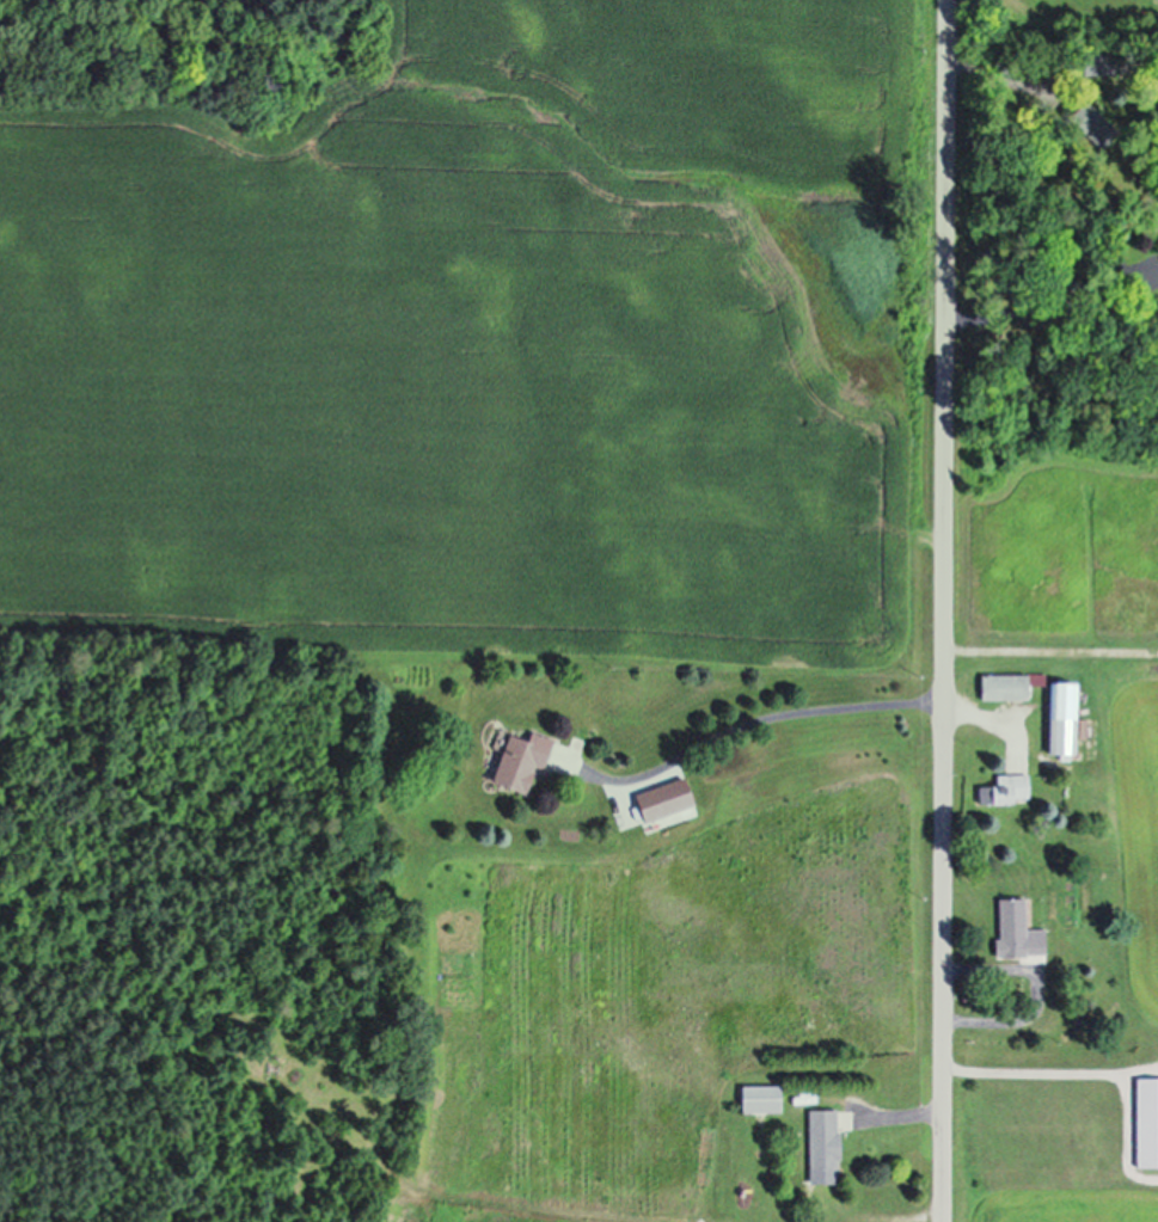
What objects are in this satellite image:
building: (1103, 65)
road: (992, 74)
road: (1042, 313)
road: (949, 610)
road: (1053, 651)
building: (1009, 687)
road: (798, 712)
building: (1065, 720)
building: (526, 761)
building: (1009, 790)
building: (651, 799)
building: (1021, 931)
road: (1044, 991)
road: (1036, 1073)
building: (765, 1099)
road: (907, 1117)
building: (1148, 1122)
building: (827, 1147)

